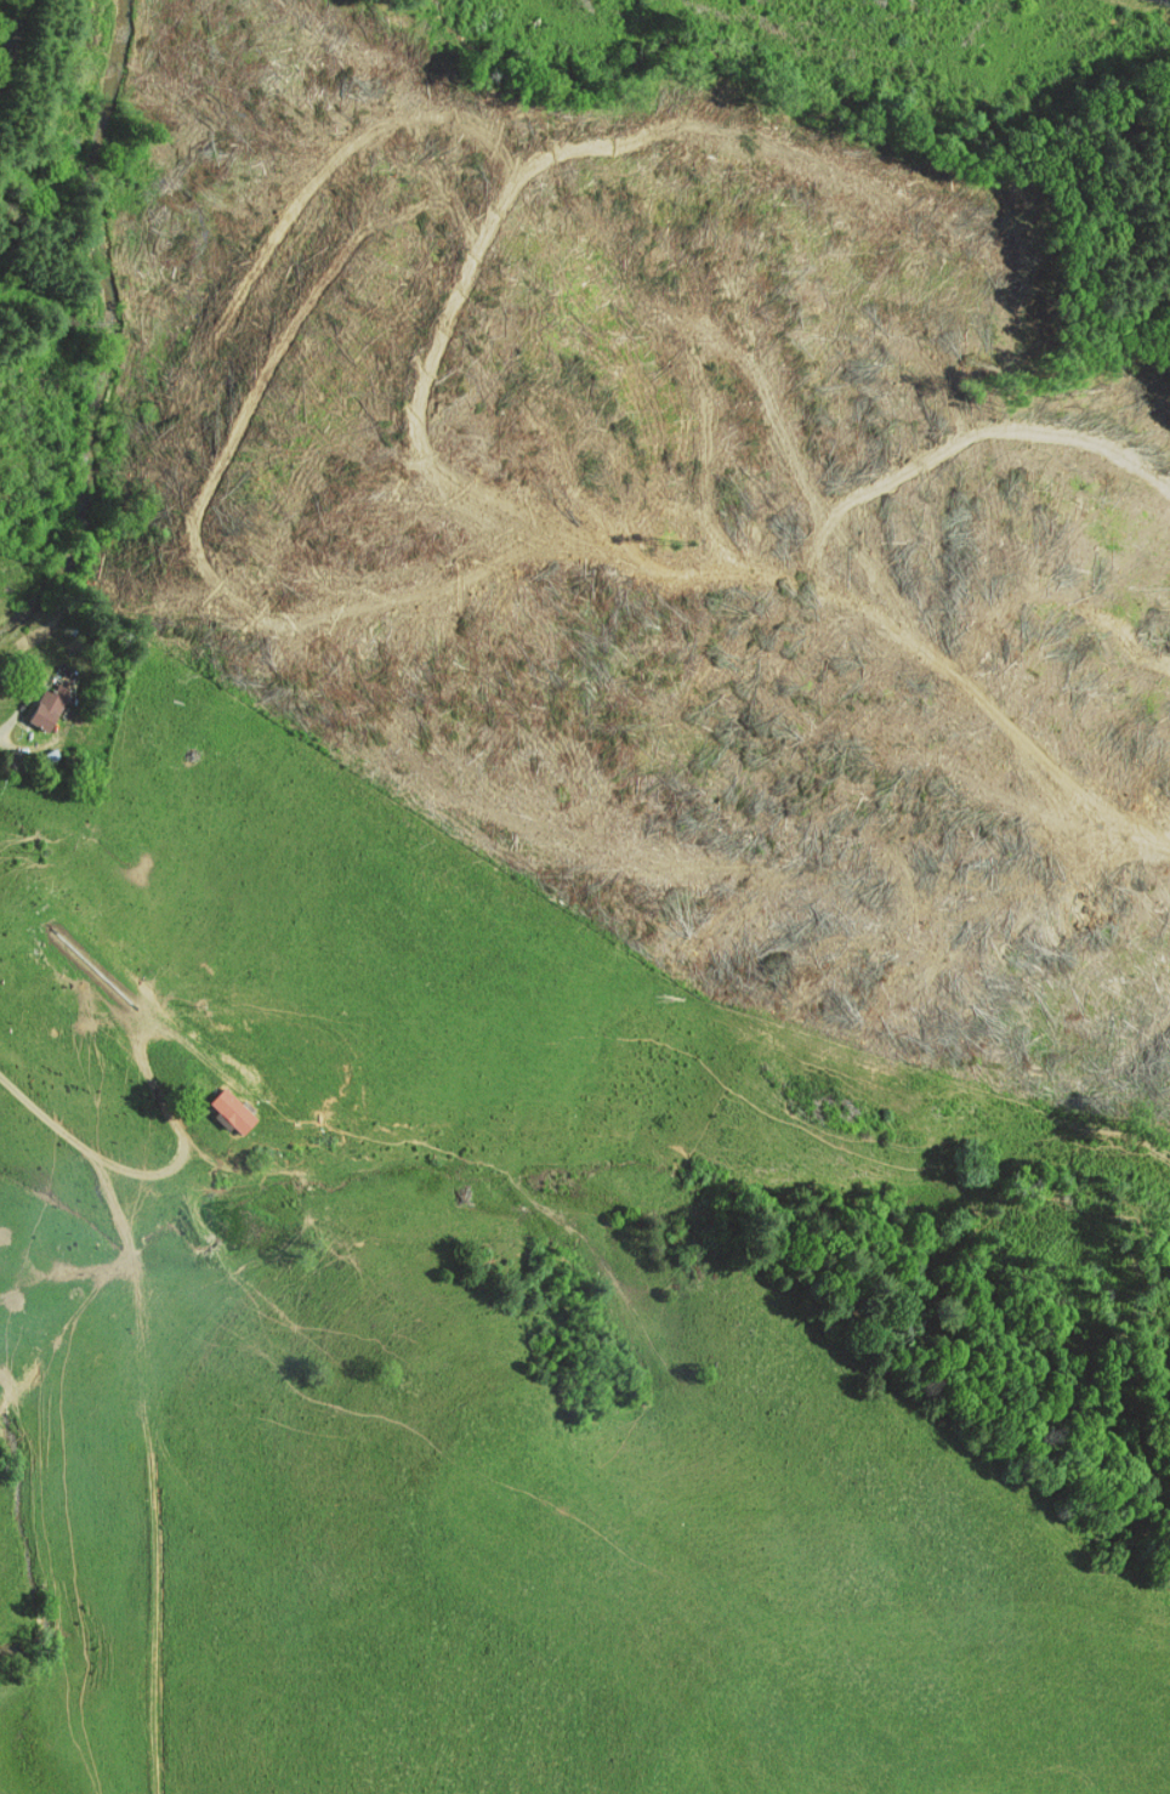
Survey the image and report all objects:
road: (1165, 1)
road: (13, 39)
road: (163, 1174)
road: (166, 1392)

